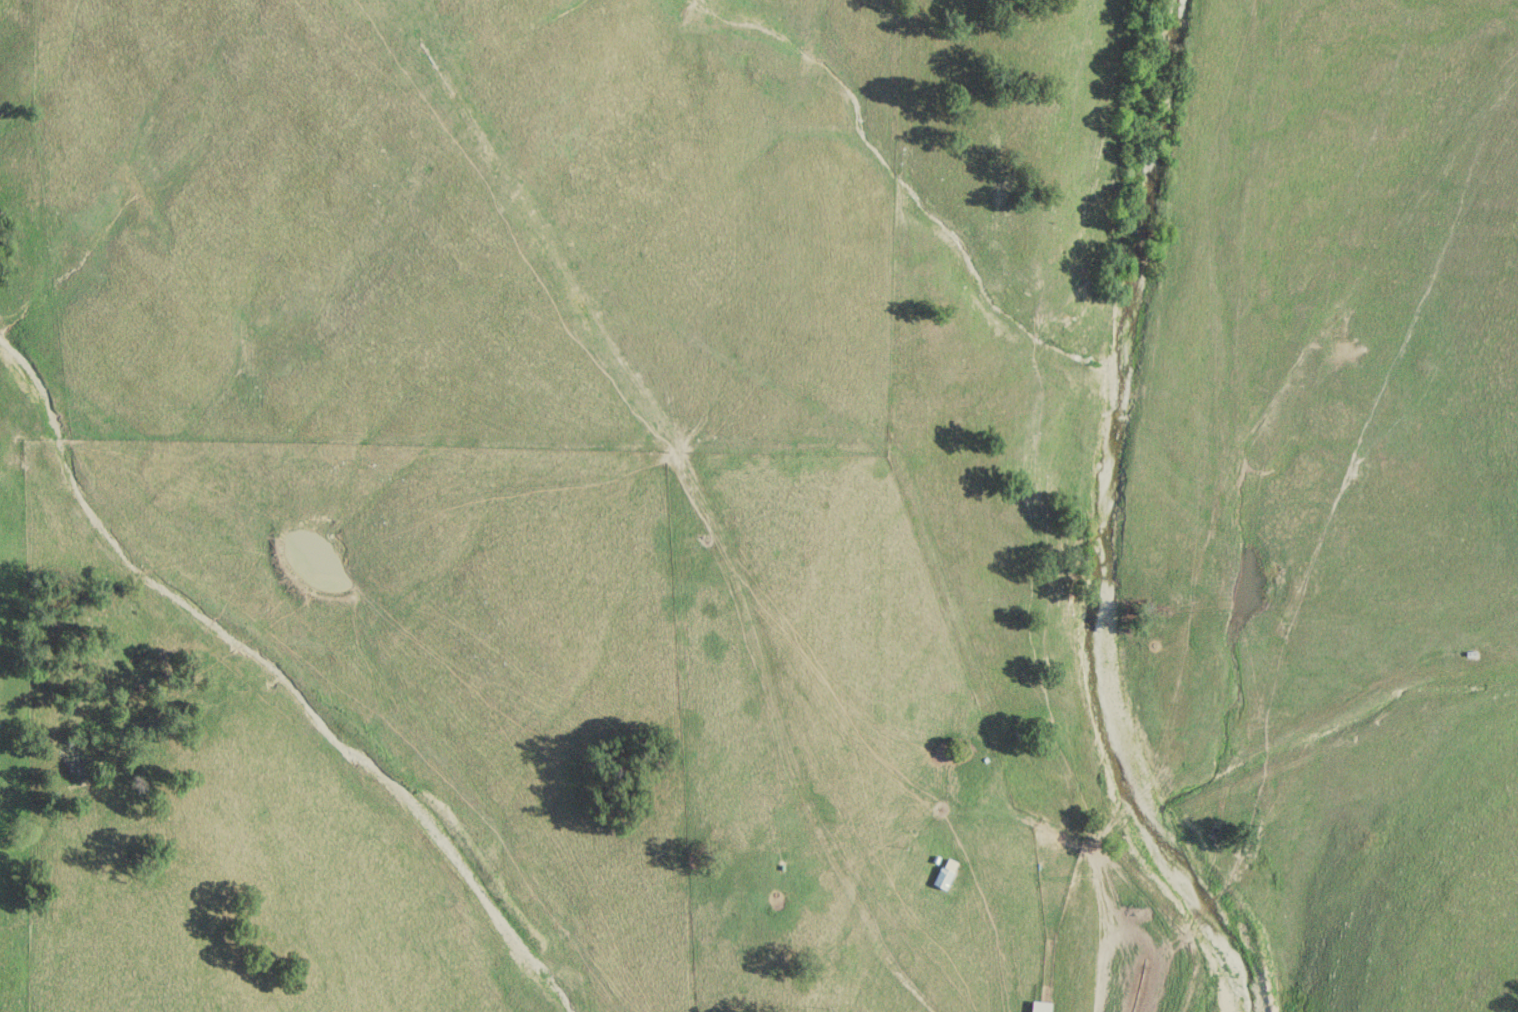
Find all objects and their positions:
road: (1163, 890)
building: (1044, 1007)

